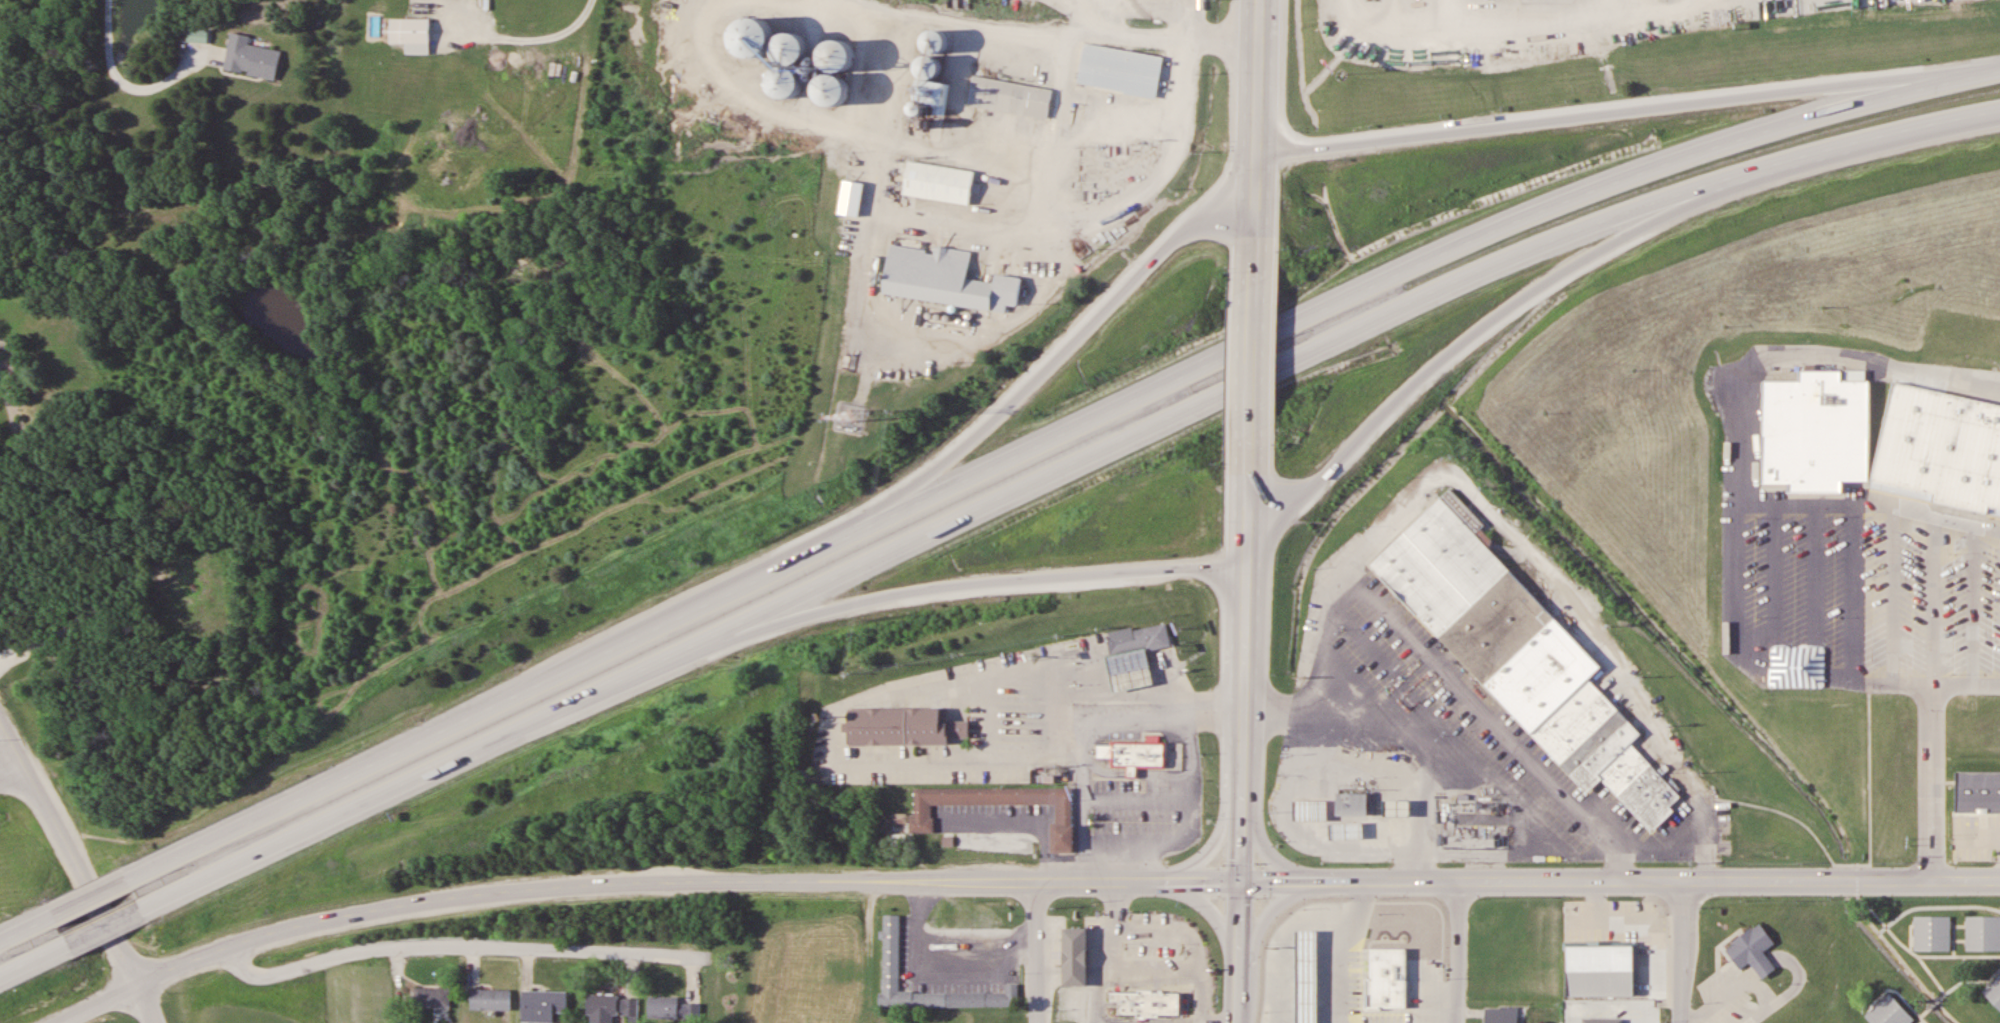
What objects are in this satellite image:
building: (756, 31)
silo: (756, 31)
building: (198, 36)
building: (410, 36)
road: (555, 40)
building: (798, 44)
silo: (798, 44)
building: (840, 48)
silo: (840, 48)
building: (931, 56)
building: (250, 59)
building: (1120, 63)
road: (1973, 71)
building: (786, 75)
silo: (786, 75)
road: (1255, 79)
building: (829, 84)
silo: (829, 84)
building: (1009, 89)
road: (115, 94)
road: (1600, 117)
road: (1876, 139)
building: (938, 174)
road: (1252, 200)
building: (944, 280)
road: (1488, 327)
road: (1250, 343)
road: (1030, 383)
building: (1817, 430)
road: (1025, 448)
building: (1940, 449)
road: (1741, 480)
road: (1871, 502)
road: (943, 523)
road: (938, 589)
road: (1775, 589)
road: (1813, 590)
road: (1853, 591)
parking lot: (1859, 592)
road: (1895, 594)
road: (1974, 604)
road: (1242, 626)
building: (1137, 640)
gas station: (1137, 640)
building: (1523, 655)
building: (1134, 672)
road: (1966, 685)
road: (1933, 697)
building: (899, 726)
building: (1142, 755)
road: (10, 770)
building: (1978, 791)
building: (1355, 805)
building: (1404, 810)
building: (925, 812)
building: (1316, 812)
parking lot: (993, 818)
road: (1022, 822)
building: (1352, 832)
road: (1209, 850)
road: (1268, 854)
road: (83, 873)
road: (1240, 879)
road: (969, 881)
road: (1203, 883)
traffic signals: (1240, 883)
road: (1276, 883)
road: (1656, 884)
road: (93, 899)
road: (452, 899)
road: (1279, 903)
road: (1209, 909)
road: (110, 923)
road: (29, 930)
building: (1935, 933)
building: (1985, 935)
building: (1402, 938)
road: (1245, 941)
road: (441, 949)
building: (890, 949)
building: (1754, 951)
road: (1035, 953)
road: (1681, 953)
road: (1456, 954)
building: (1075, 957)
road: (37, 958)
building: (1501, 962)
building: (1601, 970)
building: (1311, 978)
road: (1237, 987)
building: (1994, 992)
building: (431, 997)
building: (490, 999)
road: (98, 1000)
building: (1146, 1003)
building: (543, 1006)
building: (612, 1008)
building: (672, 1010)
building: (1889, 1012)
building: (1633, 1014)
building: (1418, 1017)
building: (1497, 1017)

